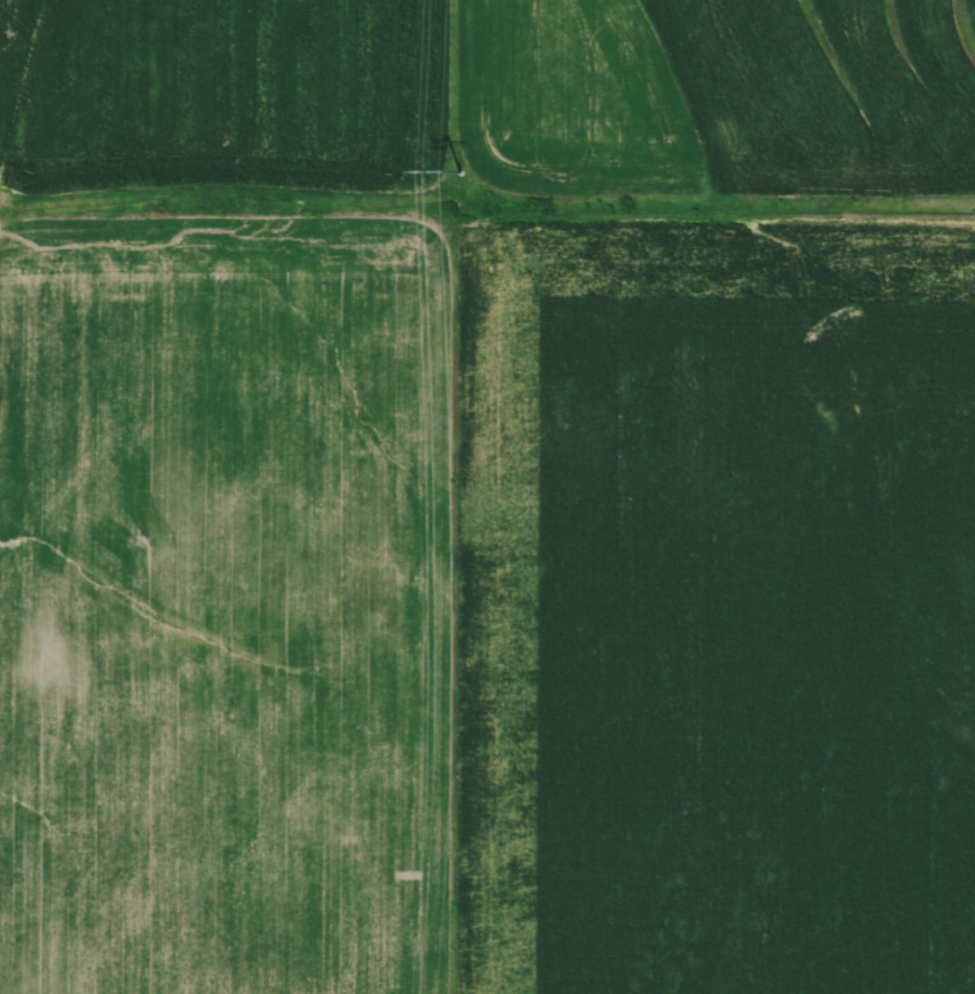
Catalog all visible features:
power tower: (461, 172)

